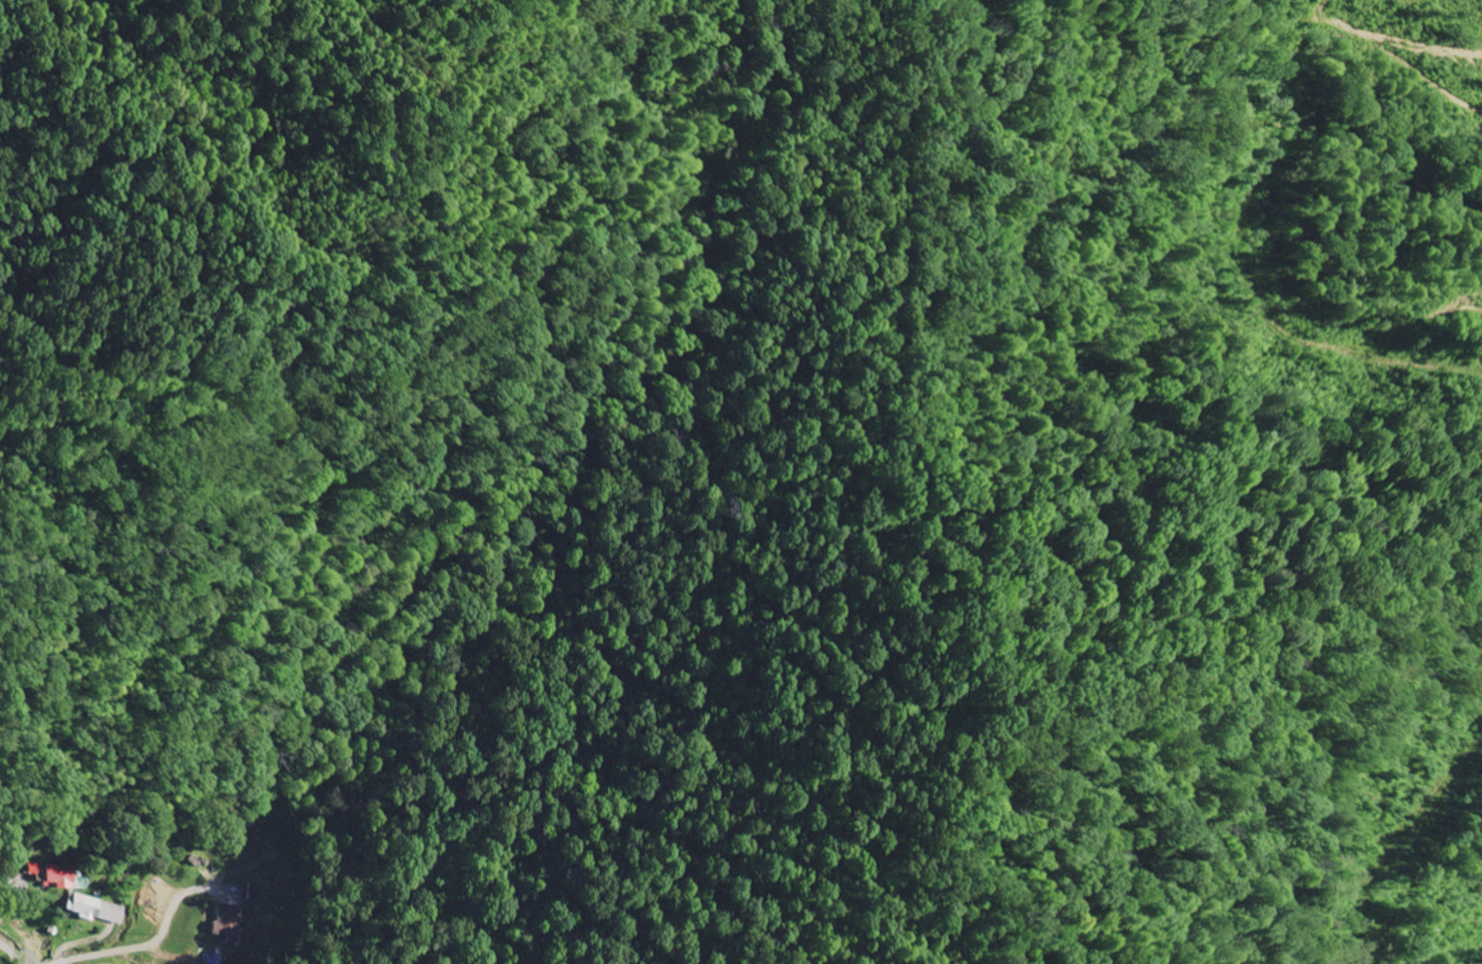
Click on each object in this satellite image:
building: (32, 867)
building: (59, 875)
building: (41, 878)
building: (95, 908)
building: (227, 922)
road: (12, 951)

